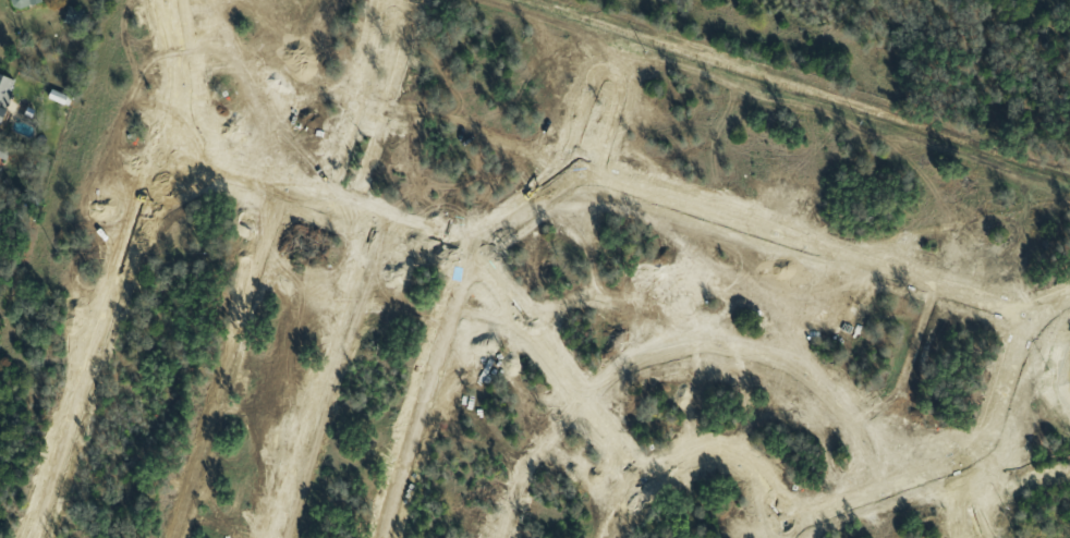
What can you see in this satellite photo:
building: (22, 3)
building: (71, 16)
building: (4, 94)
building: (56, 97)
building: (3, 151)

